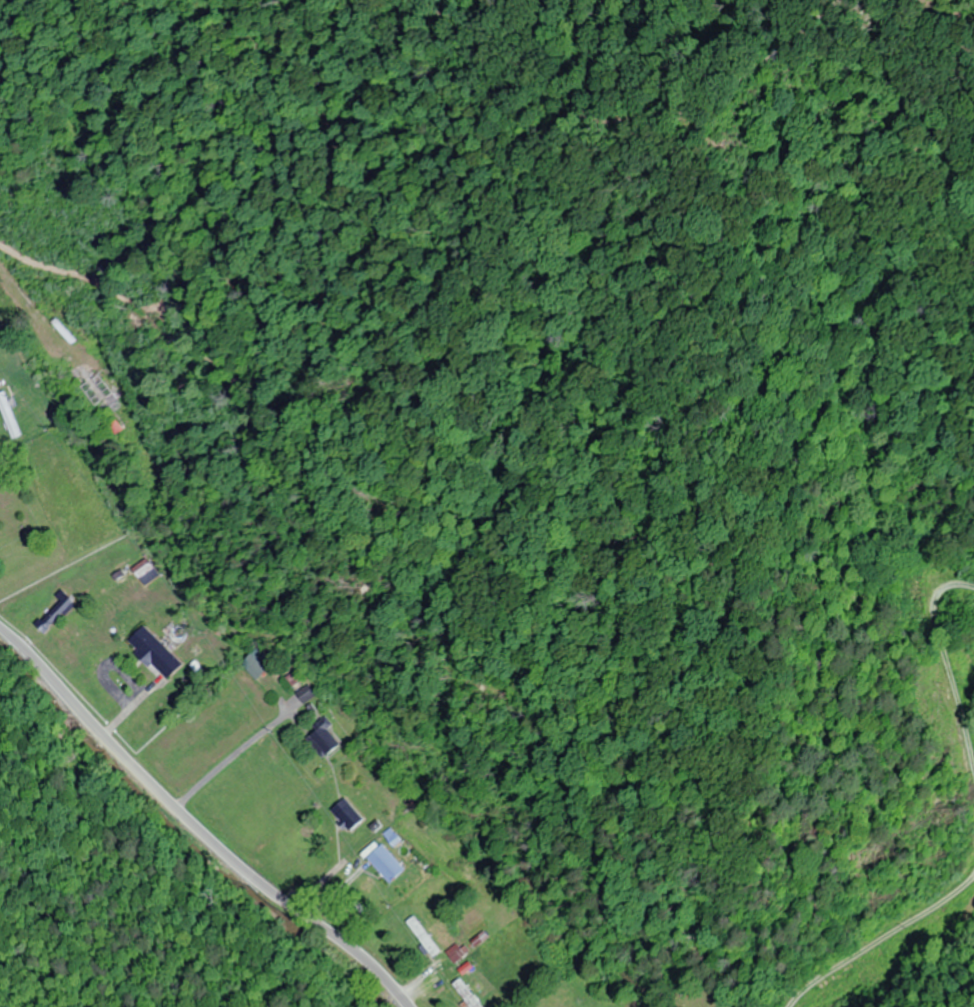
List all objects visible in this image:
building: (98, 388)
building: (10, 417)
building: (145, 570)
building: (55, 612)
building: (155, 651)
building: (255, 662)
building: (304, 693)
building: (321, 739)
building: (345, 814)
road: (196, 826)
building: (384, 863)
building: (422, 936)
road: (879, 937)
building: (454, 952)
road: (892, 972)
building: (465, 994)

